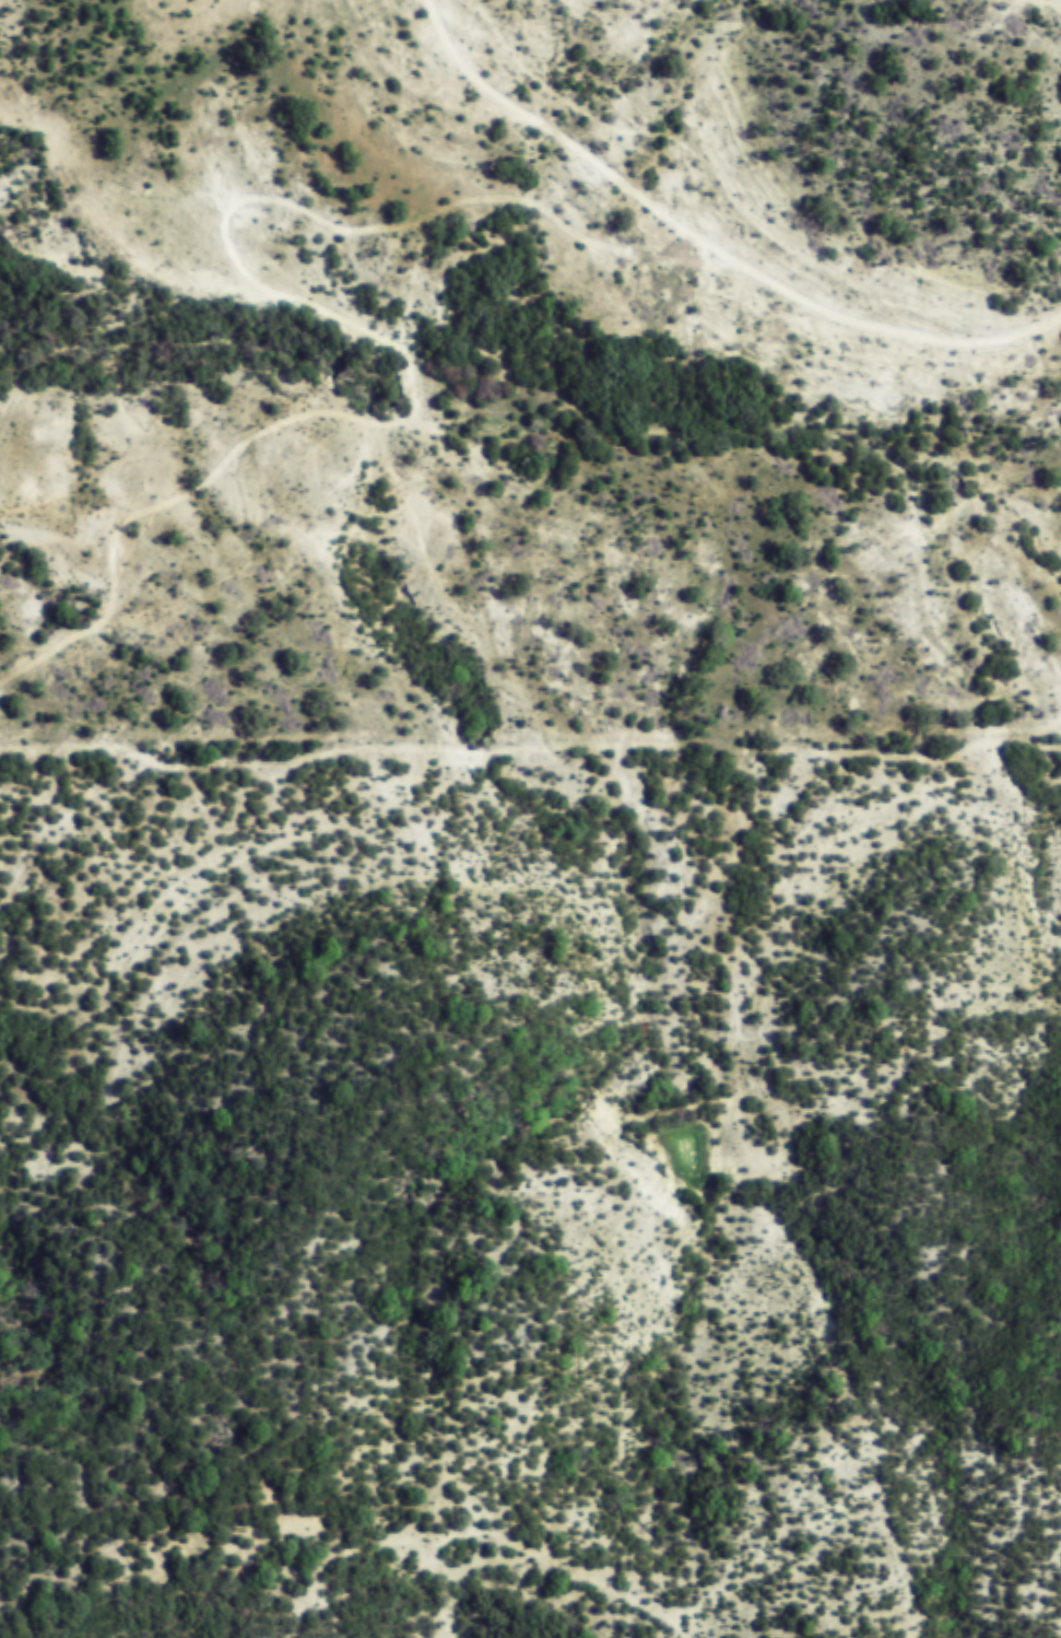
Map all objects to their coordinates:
road: (711, 241)

